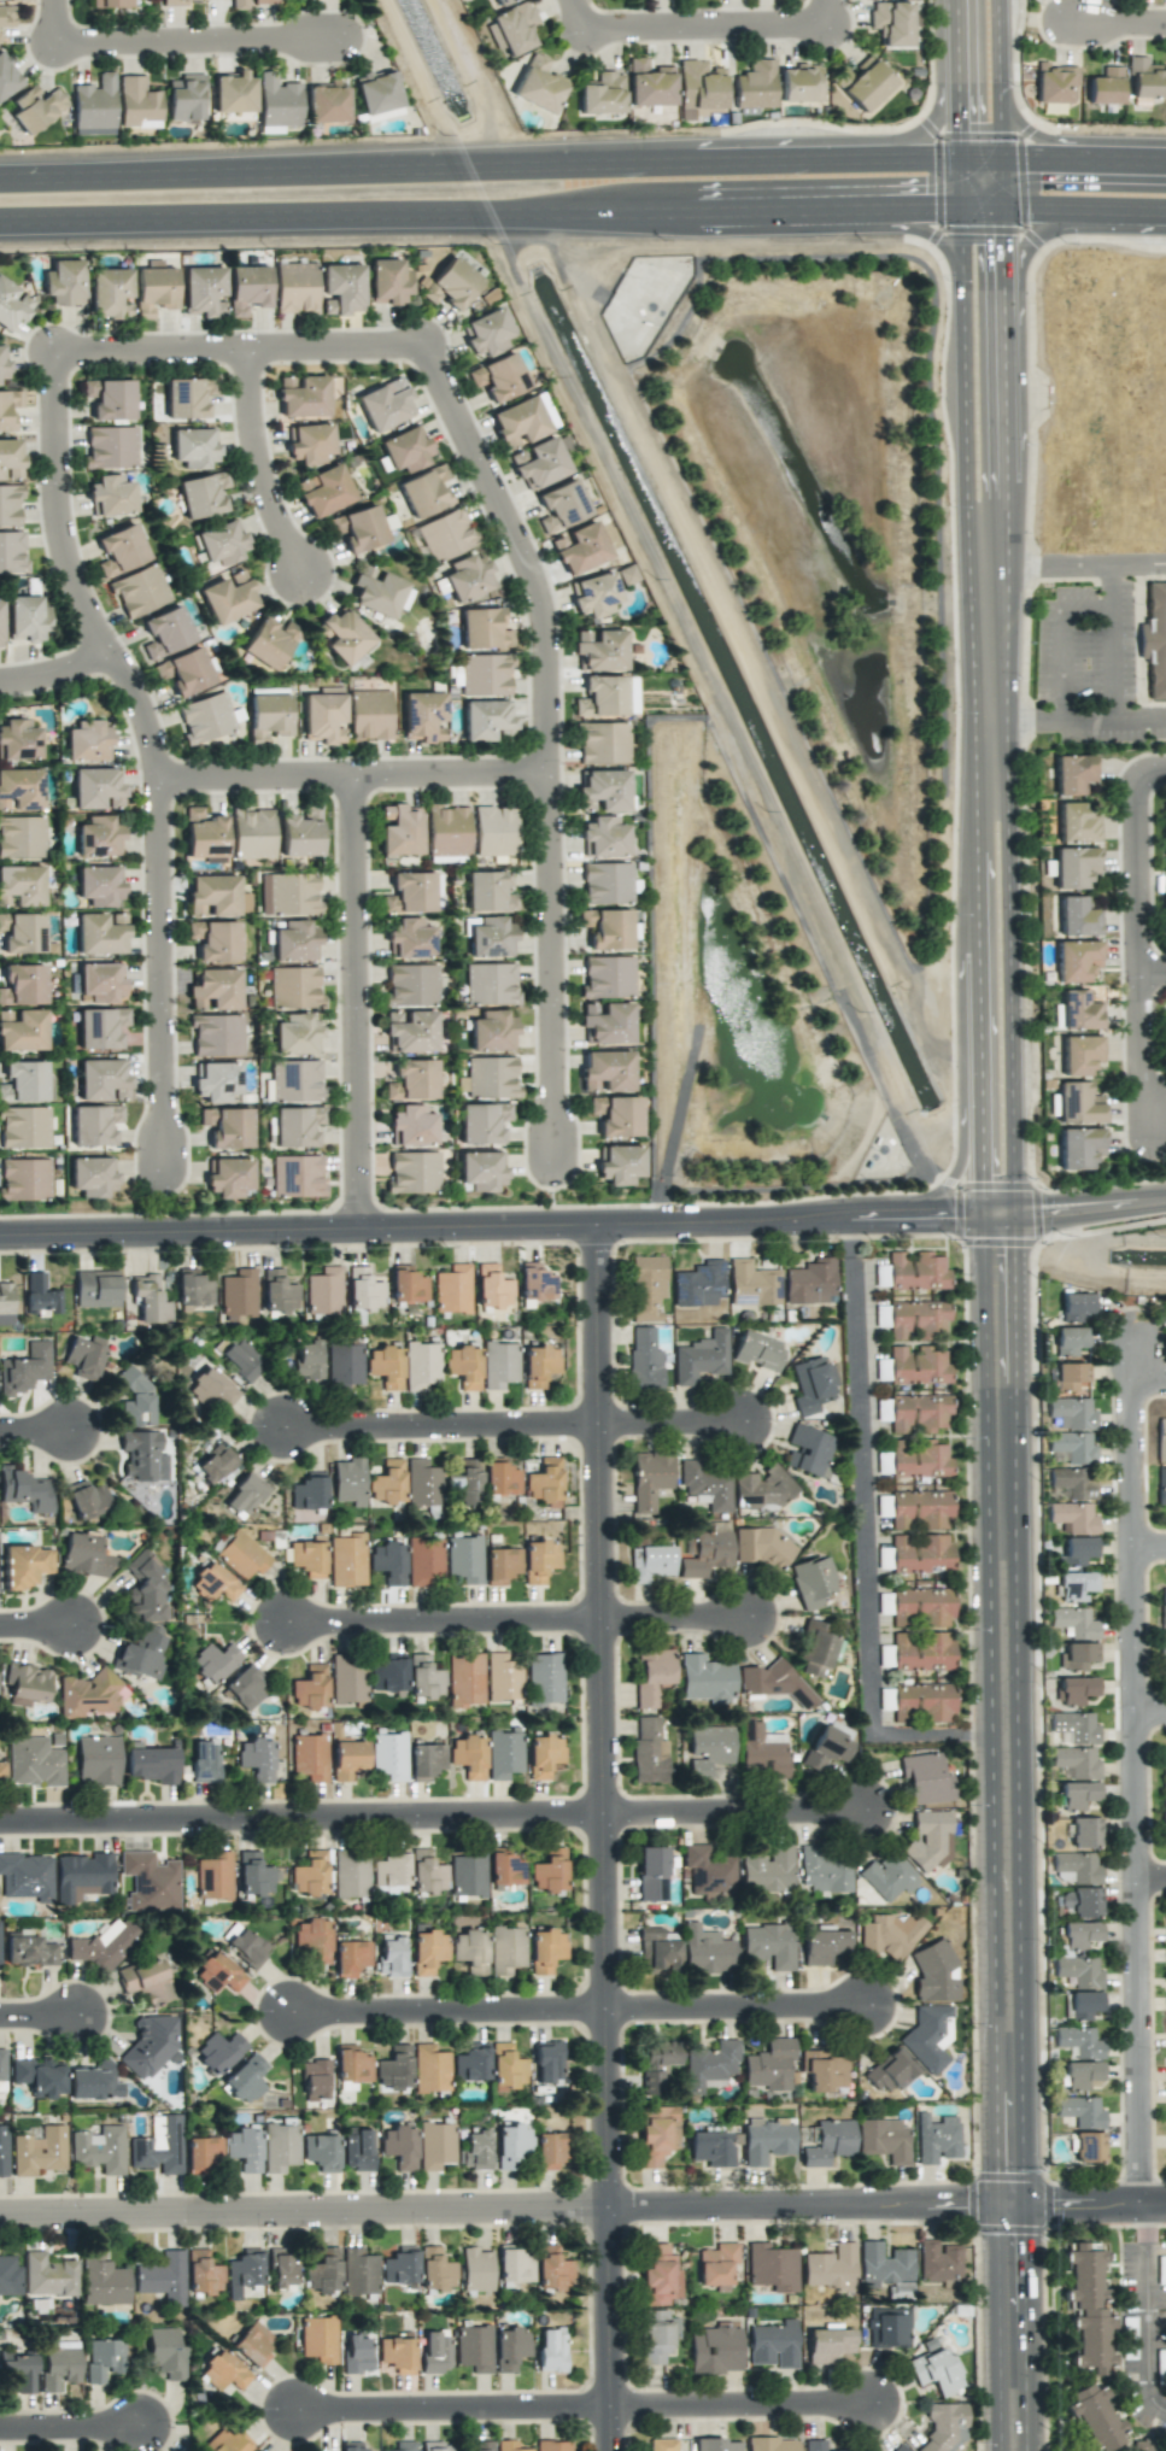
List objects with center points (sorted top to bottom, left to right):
building: (266, 1)
building: (500, 1)
building: (174, 2)
building: (110, 4)
building: (239, 5)
road: (833, 10)
road: (588, 12)
building: (6, 17)
road: (1120, 20)
road: (58, 23)
road: (714, 23)
building: (891, 23)
building: (511, 29)
road: (201, 43)
building: (7, 77)
building: (1143, 78)
road: (997, 82)
building: (799, 83)
building: (862, 83)
building: (1055, 83)
building: (538, 84)
building: (649, 84)
building: (755, 86)
building: (1105, 87)
building: (698, 88)
building: (377, 92)
building: (233, 93)
building: (602, 94)
building: (184, 98)
road: (963, 99)
building: (136, 101)
building: (277, 101)
building: (36, 107)
building: (94, 107)
road: (925, 125)
road: (1047, 140)
road: (968, 164)
road: (1083, 165)
road: (468, 172)
road: (1059, 201)
road: (475, 205)
road: (916, 229)
road: (1039, 233)
building: (63, 282)
building: (387, 282)
building: (451, 283)
building: (295, 288)
building: (341, 288)
building: (247, 289)
building: (153, 291)
building: (203, 292)
building: (109, 293)
building: (12, 304)
building: (486, 333)
road: (236, 352)
building: (2, 364)
building: (498, 377)
building: (301, 397)
building: (187, 398)
building: (109, 399)
building: (385, 404)
building: (8, 407)
building: (517, 422)
building: (307, 442)
building: (110, 447)
building: (193, 447)
building: (405, 448)
building: (10, 458)
road: (257, 468)
building: (323, 491)
building: (423, 491)
building: (201, 494)
building: (110, 496)
building: (10, 504)
building: (558, 506)
building: (358, 528)
building: (444, 534)
building: (221, 543)
building: (576, 549)
building: (119, 551)
road: (517, 552)
building: (12, 553)
road: (1139, 562)
road: (1041, 569)
building: (623, 574)
road: (69, 576)
building: (465, 577)
building: (137, 591)
building: (375, 593)
building: (591, 594)
building: (227, 597)
building: (25, 618)
building: (0, 620)
building: (481, 629)
building: (165, 633)
building: (341, 635)
road: (1059, 638)
building: (1154, 639)
building: (269, 641)
road: (1113, 668)
building: (183, 672)
building: (482, 674)
road: (54, 675)
building: (627, 694)
building: (598, 697)
road: (1001, 704)
road: (971, 708)
building: (368, 714)
building: (266, 716)
building: (422, 716)
building: (205, 717)
building: (323, 717)
building: (482, 719)
road: (1042, 723)
building: (18, 740)
building: (87, 741)
building: (599, 743)
building: (1073, 773)
road: (1149, 773)
road: (348, 779)
building: (19, 788)
building: (96, 788)
building: (599, 791)
building: (311, 813)
building: (1076, 823)
building: (1164, 828)
building: (398, 831)
building: (445, 831)
building: (492, 831)
building: (252, 833)
building: (98, 835)
building: (204, 835)
building: (298, 835)
building: (20, 837)
building: (599, 837)
building: (1074, 867)
road: (1133, 875)
building: (1165, 878)
building: (603, 883)
building: (20, 885)
building: (99, 886)
building: (486, 892)
building: (287, 893)
building: (408, 893)
building: (215, 896)
building: (1165, 905)
building: (1077, 917)
building: (603, 928)
building: (22, 933)
building: (100, 933)
building: (408, 938)
building: (487, 938)
building: (213, 940)
building: (293, 942)
building: (1076, 960)
road: (546, 971)
road: (1150, 975)
road: (158, 977)
building: (603, 977)
building: (100, 983)
building: (487, 984)
building: (22, 985)
building: (409, 985)
building: (293, 987)
building: (213, 990)
road: (353, 1005)
building: (1077, 1012)
building: (602, 1024)
building: (99, 1027)
building: (22, 1030)
building: (409, 1031)
building: (488, 1032)
building: (216, 1034)
building: (294, 1034)
building: (1080, 1054)
road: (1137, 1059)
building: (603, 1071)
building: (487, 1078)
building: (101, 1080)
building: (410, 1080)
building: (24, 1081)
building: (215, 1081)
building: (294, 1081)
building: (1078, 1103)
building: (613, 1115)
building: (480, 1122)
building: (94, 1124)
building: (295, 1125)
building: (410, 1126)
building: (24, 1127)
building: (227, 1127)
building: (1079, 1148)
building: (616, 1163)
building: (479, 1171)
building: (411, 1172)
building: (92, 1175)
building: (228, 1177)
building: (295, 1177)
building: (24, 1179)
road: (948, 1183)
road: (582, 1229)
road: (990, 1229)
building: (914, 1272)
building: (534, 1283)
building: (809, 1283)
building: (406, 1284)
building: (698, 1284)
building: (752, 1284)
building: (491, 1286)
building: (193, 1288)
building: (646, 1288)
building: (96, 1289)
building: (363, 1289)
building: (452, 1289)
building: (277, 1291)
building: (323, 1291)
building: (238, 1294)
building: (40, 1295)
building: (148, 1301)
building: (5, 1304)
building: (1076, 1307)
building: (916, 1319)
building: (1070, 1341)
building: (757, 1351)
building: (84, 1356)
building: (699, 1358)
building: (241, 1359)
building: (307, 1359)
building: (644, 1360)
building: (421, 1365)
building: (498, 1365)
building: (538, 1365)
building: (344, 1366)
building: (385, 1366)
building: (463, 1366)
building: (913, 1366)
building: (24, 1368)
building: (1071, 1377)
building: (811, 1384)
building: (211, 1389)
road: (1148, 1392)
building: (135, 1401)
building: (912, 1412)
building: (1071, 1413)
road: (515, 1425)
road: (36, 1433)
building: (1161, 1439)
building: (1072, 1447)
building: (808, 1450)
building: (918, 1460)
building: (215, 1462)
building: (141, 1465)
building: (500, 1479)
building: (649, 1479)
building: (348, 1482)
building: (467, 1482)
building: (1074, 1482)
building: (387, 1483)
building: (421, 1483)
building: (544, 1483)
building: (705, 1485)
building: (1161, 1487)
building: (761, 1488)
building: (24, 1489)
building: (245, 1494)
building: (307, 1494)
building: (87, 1499)
building: (883, 1506)
building: (919, 1509)
building: (1072, 1518)
building: (762, 1547)
road: (862, 1547)
building: (1077, 1550)
building: (920, 1553)
building: (707, 1554)
building: (83, 1555)
building: (241, 1555)
road: (1149, 1556)
building: (306, 1558)
building: (464, 1559)
building: (347, 1560)
building: (538, 1560)
building: (387, 1561)
building: (424, 1561)
building: (650, 1562)
building: (24, 1565)
building: (500, 1565)
building: (811, 1582)
building: (213, 1583)
building: (1076, 1585)
building: (145, 1591)
building: (884, 1603)
building: (1162, 1606)
building: (920, 1607)
building: (1073, 1623)
road: (516, 1624)
road: (40, 1626)
building: (814, 1649)
building: (921, 1652)
building: (1162, 1653)
building: (1077, 1655)
building: (213, 1664)
building: (388, 1673)
building: (652, 1675)
building: (423, 1677)
building: (503, 1677)
building: (348, 1679)
building: (464, 1679)
building: (705, 1679)
building: (544, 1681)
building: (774, 1683)
building: (27, 1684)
building: (244, 1688)
building: (309, 1688)
building: (1074, 1689)
building: (92, 1694)
building: (916, 1702)
road: (1149, 1719)
building: (1076, 1726)
building: (708, 1749)
building: (762, 1749)
building: (825, 1749)
building: (649, 1752)
building: (504, 1754)
building: (389, 1755)
building: (468, 1755)
building: (543, 1755)
building: (309, 1757)
building: (256, 1759)
building: (347, 1759)
building: (426, 1759)
building: (98, 1760)
building: (204, 1760)
building: (34, 1761)
building: (1076, 1763)
building: (151, 1764)
building: (1164, 1771)
building: (1, 1773)
road: (1133, 1775)
building: (925, 1778)
building: (1078, 1794)
road: (730, 1801)
road: (299, 1813)
building: (1162, 1818)
building: (1084, 1833)
building: (930, 1839)
road: (599, 1840)
road: (1012, 1845)
building: (1078, 1866)
building: (505, 1870)
building: (768, 1870)
building: (825, 1870)
building: (391, 1871)
building: (549, 1871)
building: (426, 1872)
building: (709, 1872)
building: (310, 1874)
building: (350, 1874)
building: (467, 1874)
building: (651, 1874)
building: (253, 1875)
building: (27, 1876)
building: (213, 1876)
building: (889, 1876)
building: (82, 1877)
road: (1150, 1881)
building: (150, 1882)
building: (1080, 1902)
building: (1165, 1923)
building: (1079, 1934)
building: (885, 1936)
building: (312, 1940)
building: (244, 1945)
building: (769, 1945)
building: (822, 1945)
building: (102, 1946)
building: (657, 1948)
building: (506, 1949)
building: (545, 1949)
building: (29, 1951)
building: (470, 1951)
building: (707, 1951)
building: (427, 1952)
building: (391, 1955)
building: (1165, 1955)
building: (350, 1958)
building: (1078, 1971)
building: (218, 1972)
building: (933, 1972)
building: (146, 1982)
road: (576, 2000)
building: (1083, 2004)
road: (36, 2015)
building: (926, 2036)
building: (1079, 2041)
building: (150, 2045)
building: (218, 2052)
building: (470, 2063)
building: (547, 2063)
building: (351, 2064)
building: (657, 2065)
building: (709, 2065)
building: (769, 2065)
building: (506, 2068)
building: (429, 2069)
building: (394, 2070)
building: (822, 2070)
building: (1, 2071)
building: (889, 2071)
building: (1080, 2074)
building: (39, 2076)
building: (245, 2080)
building: (315, 2080)
building: (94, 2082)
building: (1080, 2111)
building: (656, 2134)
building: (936, 2139)
building: (884, 2140)
building: (767, 2141)
building: (828, 2142)
building: (435, 2145)
building: (159, 2147)
building: (280, 2147)
building: (399, 2147)
building: (511, 2147)
building: (1089, 2147)
building: (244, 2148)
building: (357, 2148)
building: (711, 2148)
building: (99, 2150)
building: (474, 2150)
building: (2, 2151)
building: (550, 2151)
building: (39, 2152)
building: (321, 2152)
building: (201, 2154)
road: (582, 2203)
building: (938, 2263)
building: (716, 2264)
building: (884, 2264)
building: (515, 2265)
building: (400, 2267)
building: (772, 2268)
building: (830, 2268)
building: (282, 2269)
building: (552, 2269)
building: (435, 2270)
building: (476, 2270)
building: (244, 2271)
building: (323, 2271)
building: (358, 2271)
building: (201, 2273)
building: (47, 2275)
building: (10, 2276)
building: (658, 2276)
building: (163, 2277)
building: (102, 2281)
building: (898, 2289)
building: (1088, 2308)
road: (1143, 2310)
road: (1155, 2315)
building: (887, 2328)
building: (656, 2335)
building: (318, 2339)
building: (252, 2344)
building: (773, 2345)
building: (827, 2345)
building: (474, 2347)
building: (510, 2349)
building: (551, 2350)
building: (714, 2350)
building: (165, 2352)
building: (434, 2352)
building: (357, 2355)
building: (395, 2356)
building: (102, 2358)
building: (19, 2371)
building: (223, 2371)
building: (936, 2371)
road: (585, 2400)
building: (1095, 2417)
road: (69, 2422)
building: (945, 2426)
building: (227, 2441)
building: (772, 2444)
building: (482, 2445)
building: (508, 2445)
building: (552, 2445)
building: (660, 2445)
building: (716, 2445)
building: (814, 2445)
building: (351, 2446)
building: (403, 2446)
building: (435, 2446)
building: (259, 2450)
building: (840, 2450)
building: (897, 2450)

